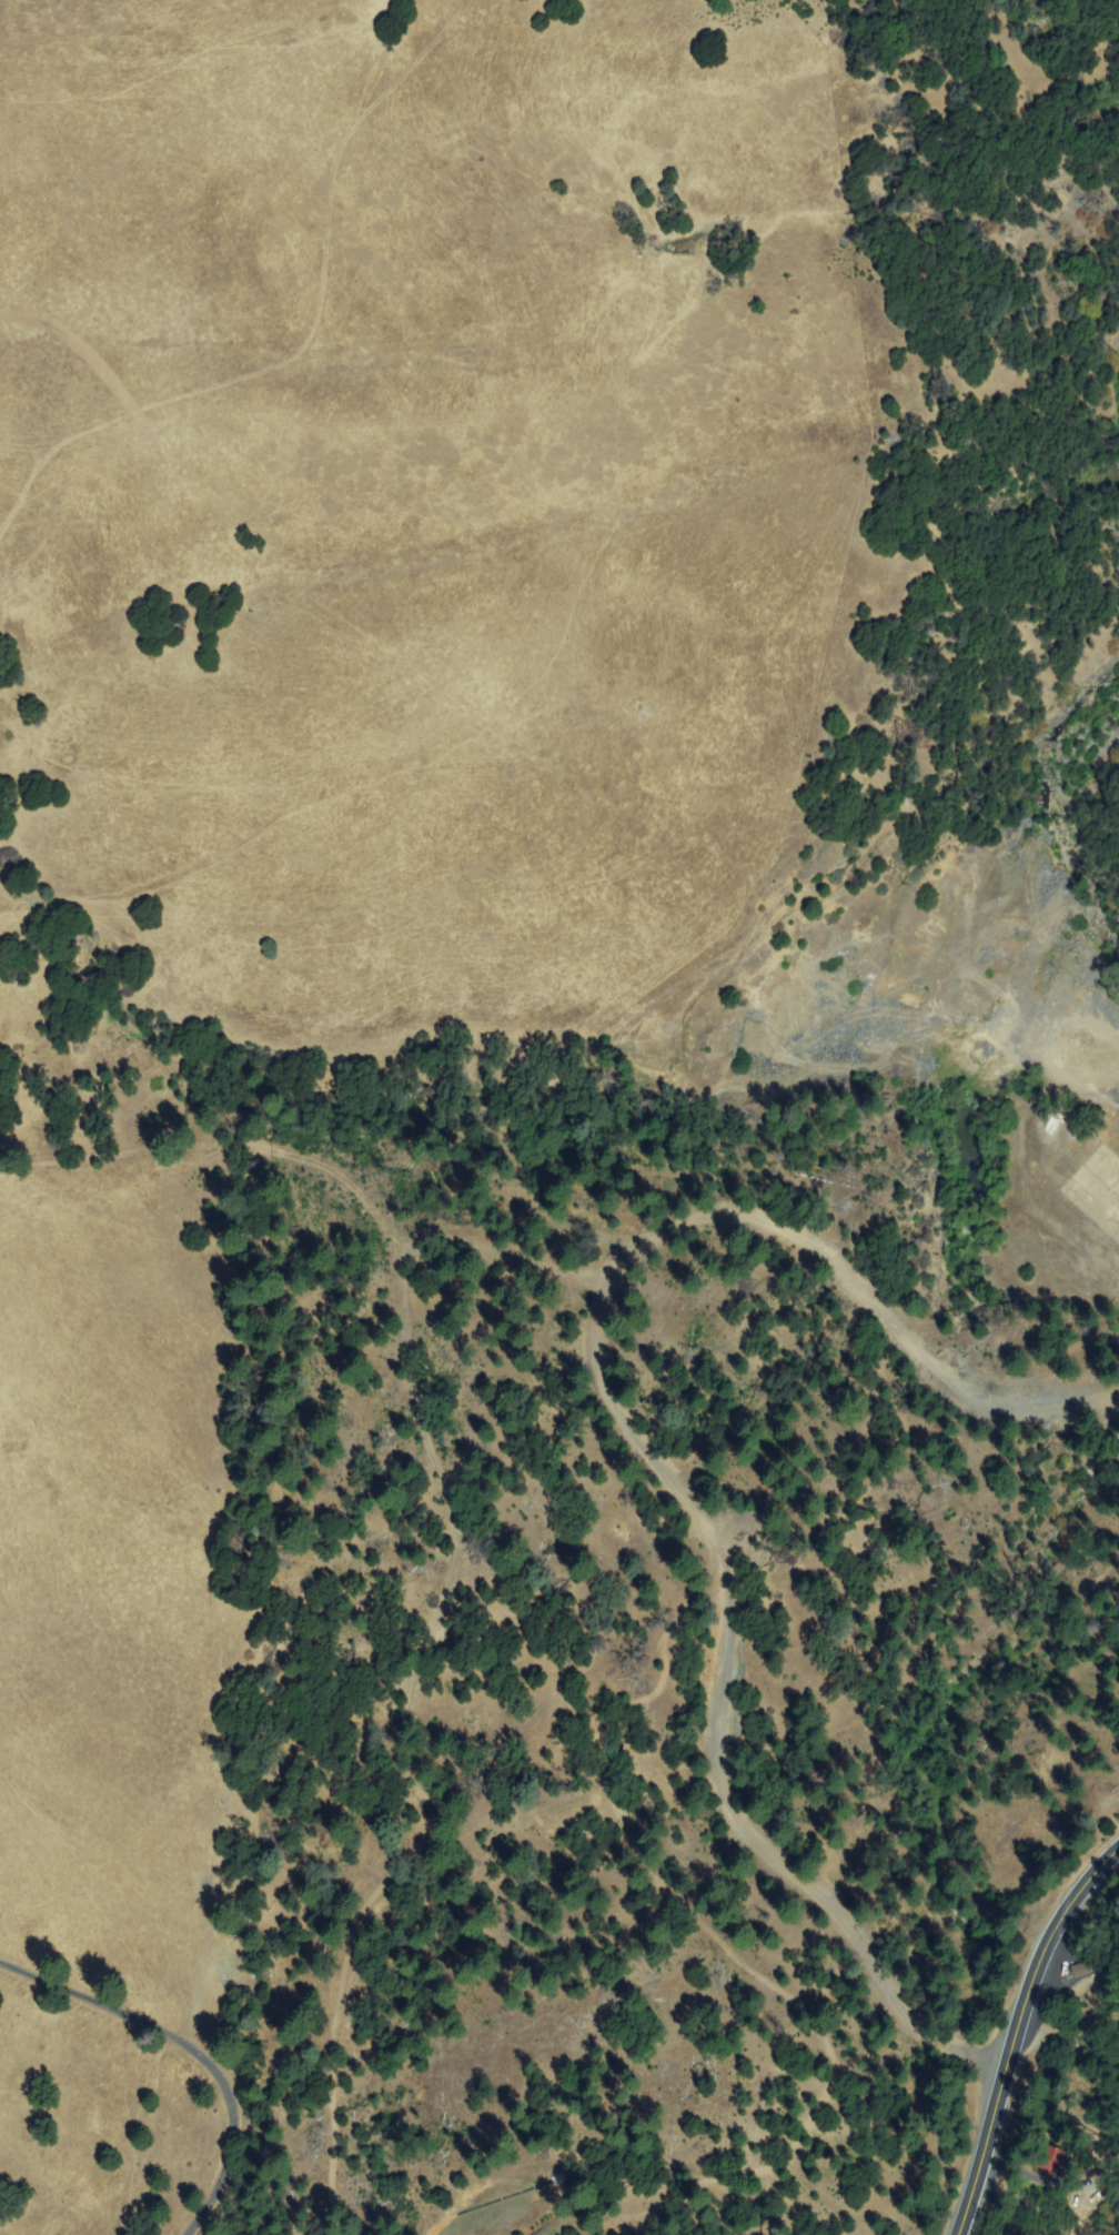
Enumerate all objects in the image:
road: (505, 1246)
road: (432, 1450)
road: (648, 1451)
building: (1085, 1969)
road: (1012, 2030)
road: (194, 2046)
building: (1058, 2161)

